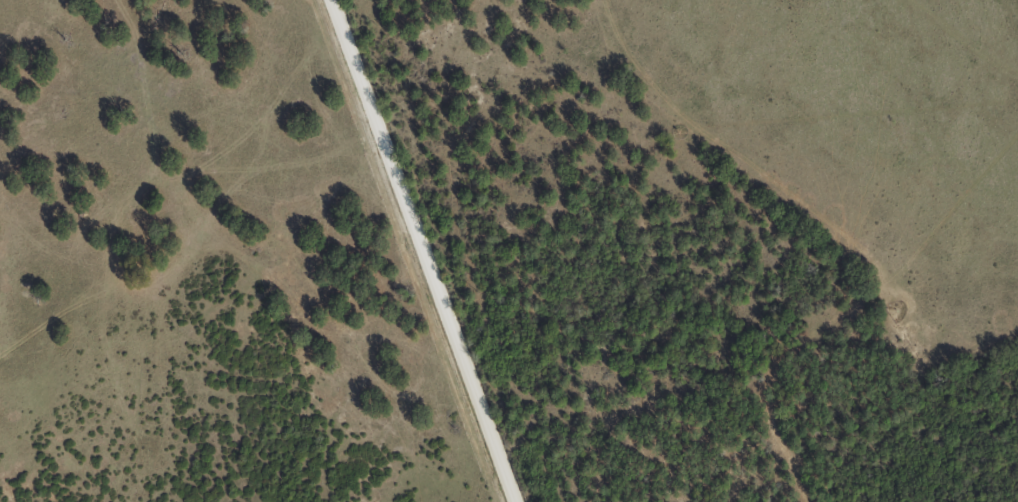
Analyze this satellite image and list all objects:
road: (409, 251)

